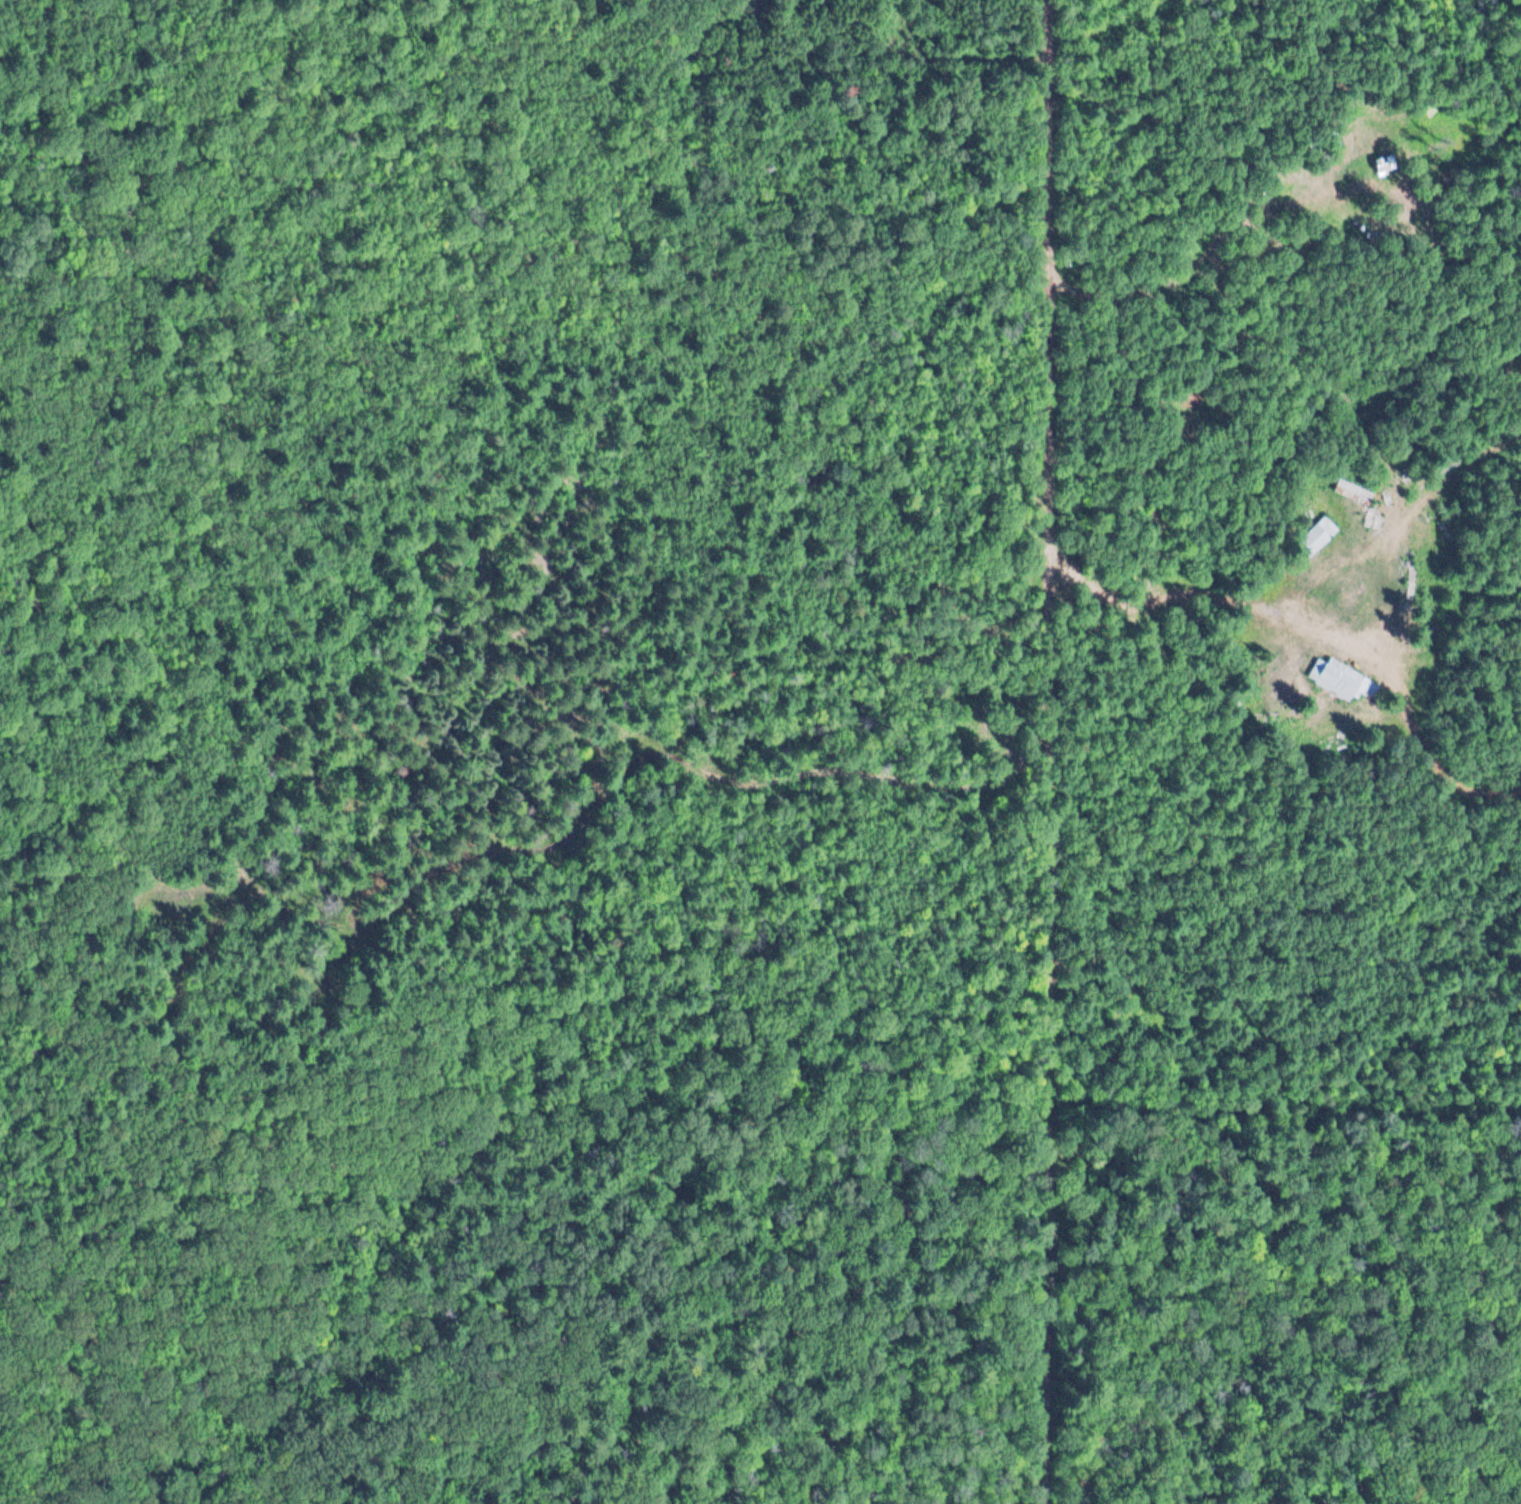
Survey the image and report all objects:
building: (1337, 142)
building: (1380, 164)
building: (1314, 536)
road: (1217, 604)
building: (1338, 679)
road: (1045, 752)

